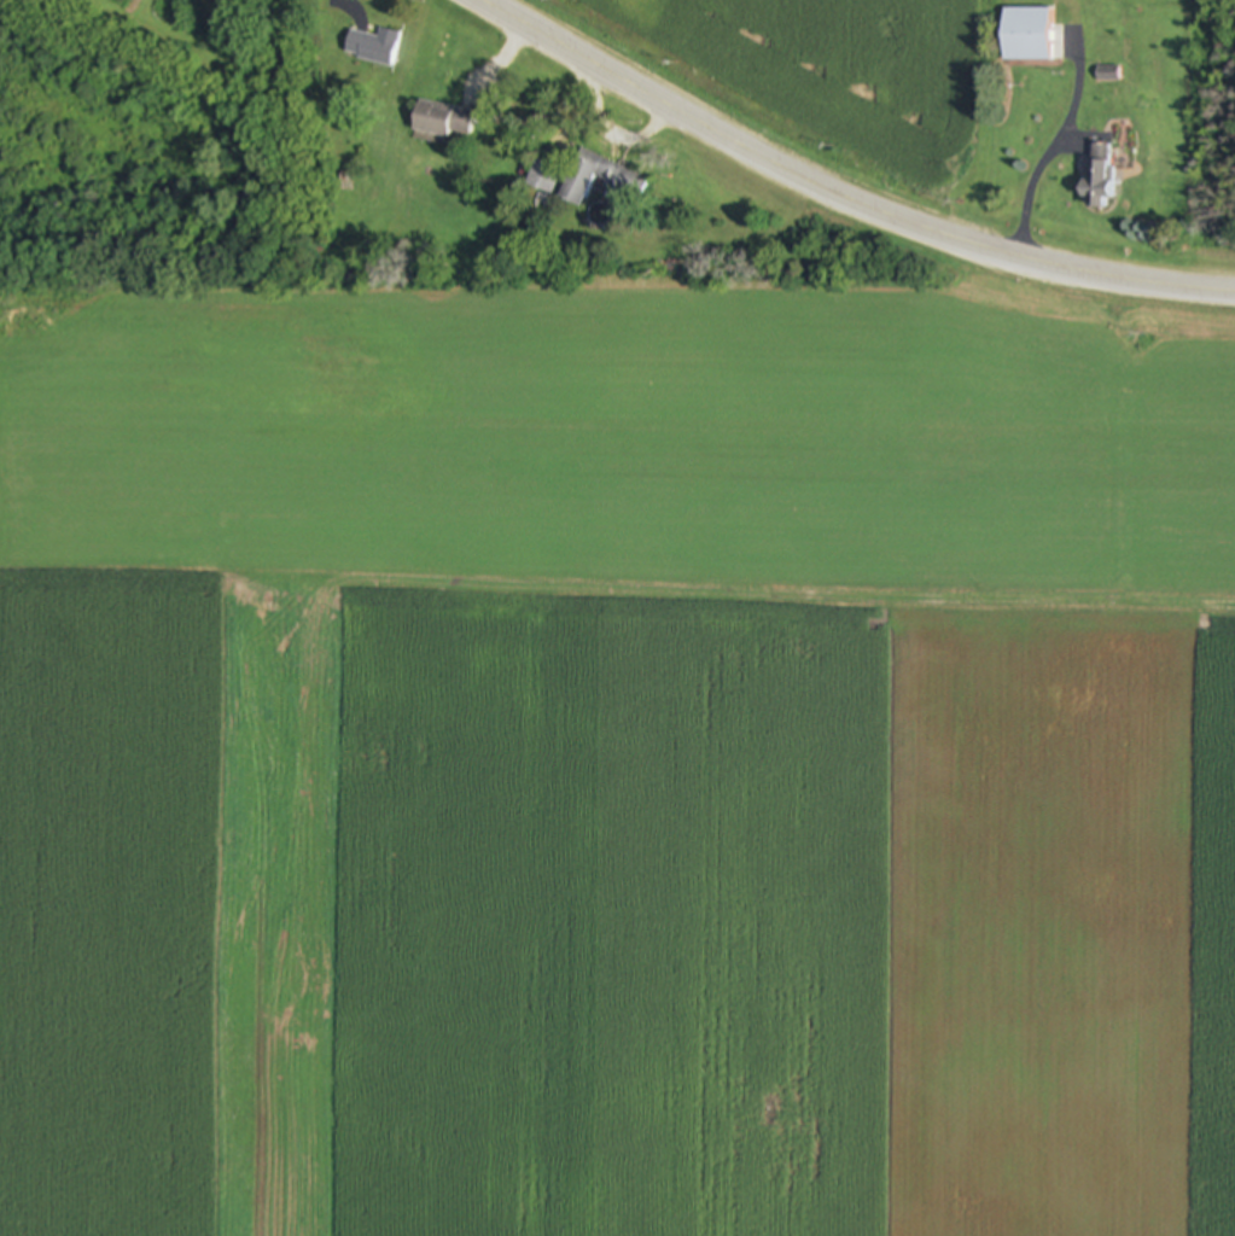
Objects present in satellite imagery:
building: (1026, 36)
building: (372, 48)
building: (1107, 75)
building: (441, 122)
road: (1049, 145)
building: (1096, 173)
building: (542, 177)
building: (598, 179)
road: (841, 188)

